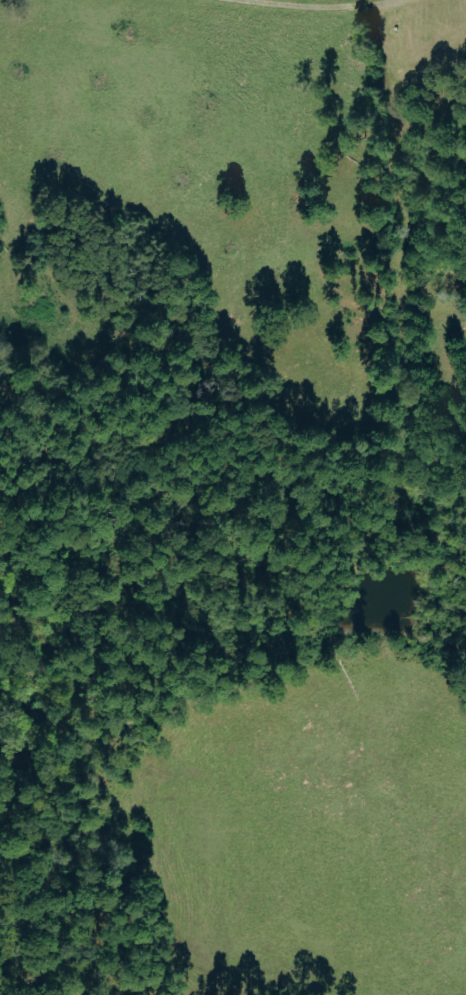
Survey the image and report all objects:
road: (322, 7)

